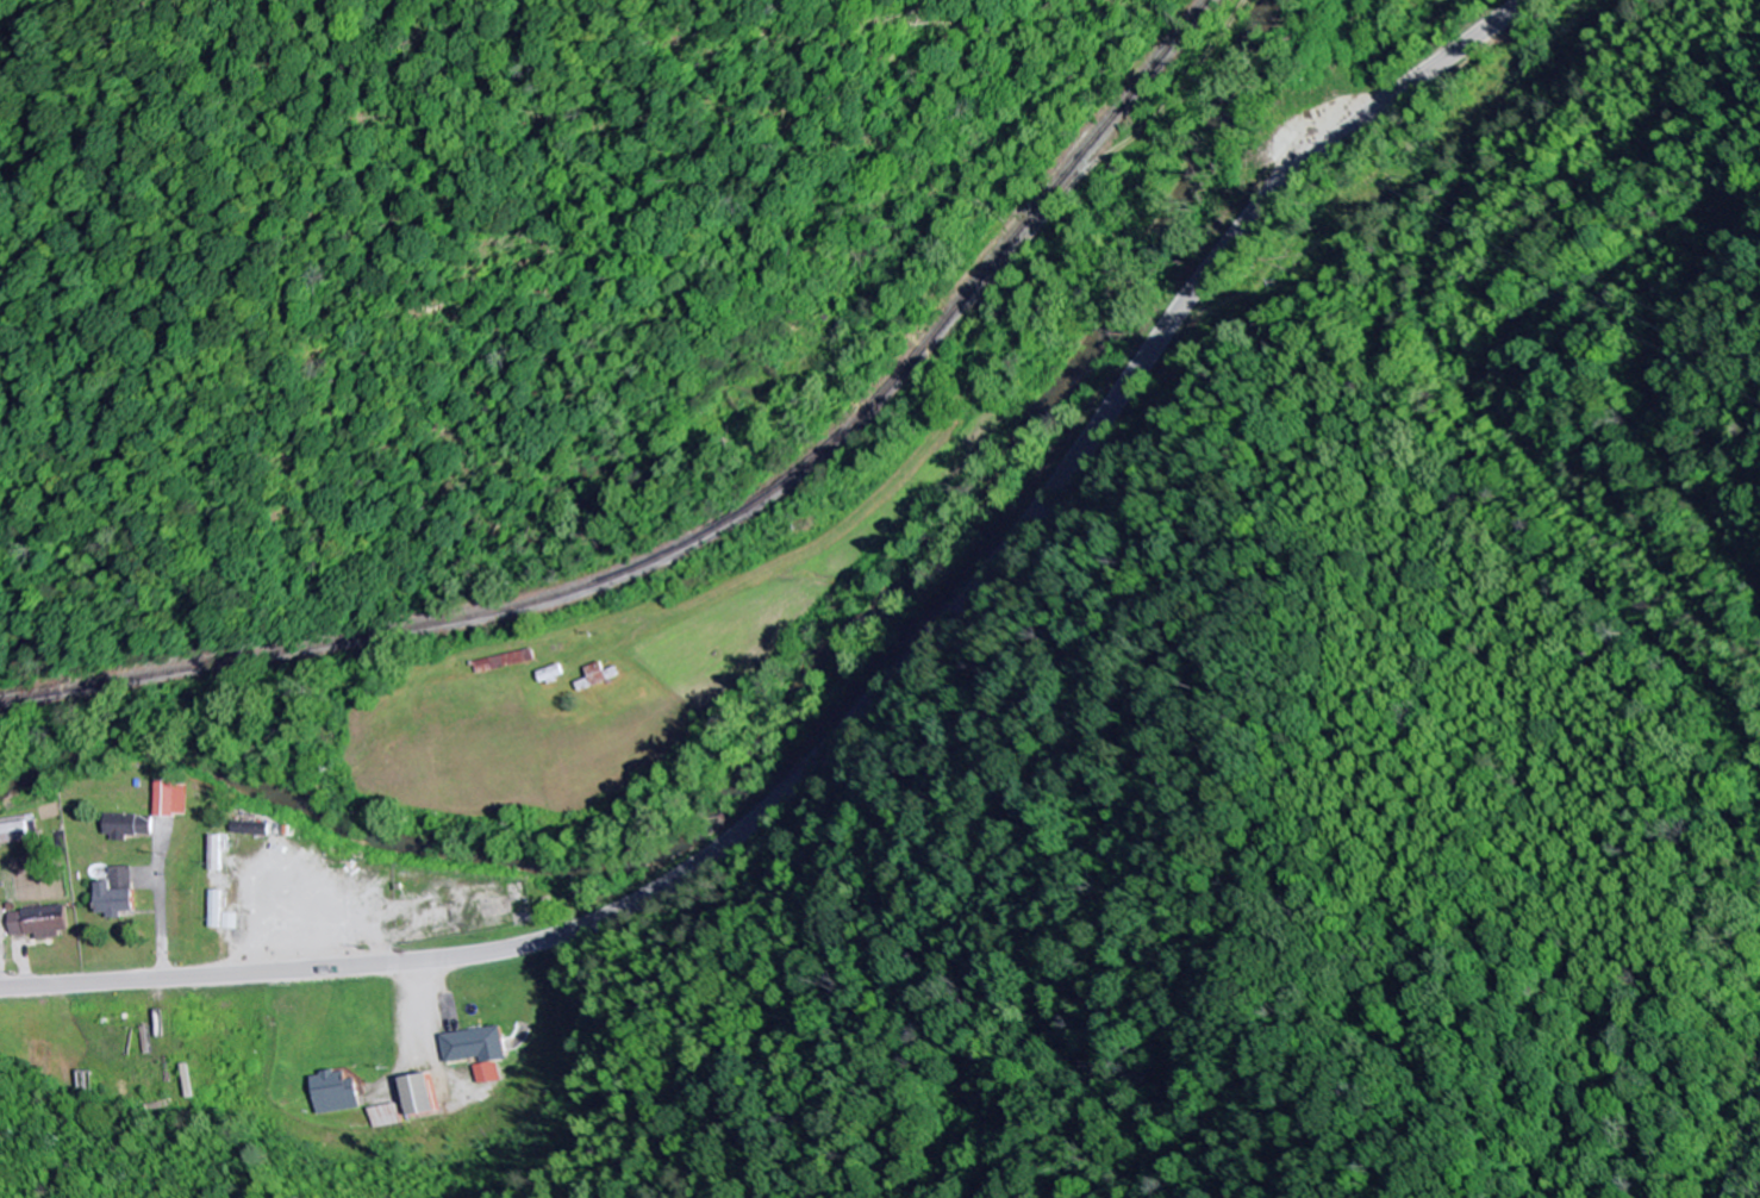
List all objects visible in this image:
railway: (716, 534)
building: (597, 678)
road: (870, 693)
building: (170, 799)
building: (127, 826)
building: (251, 829)
building: (14, 834)
building: (116, 894)
building: (216, 910)
building: (230, 922)
building: (38, 923)
building: (475, 1052)
building: (335, 1093)
building: (418, 1096)
building: (383, 1117)

